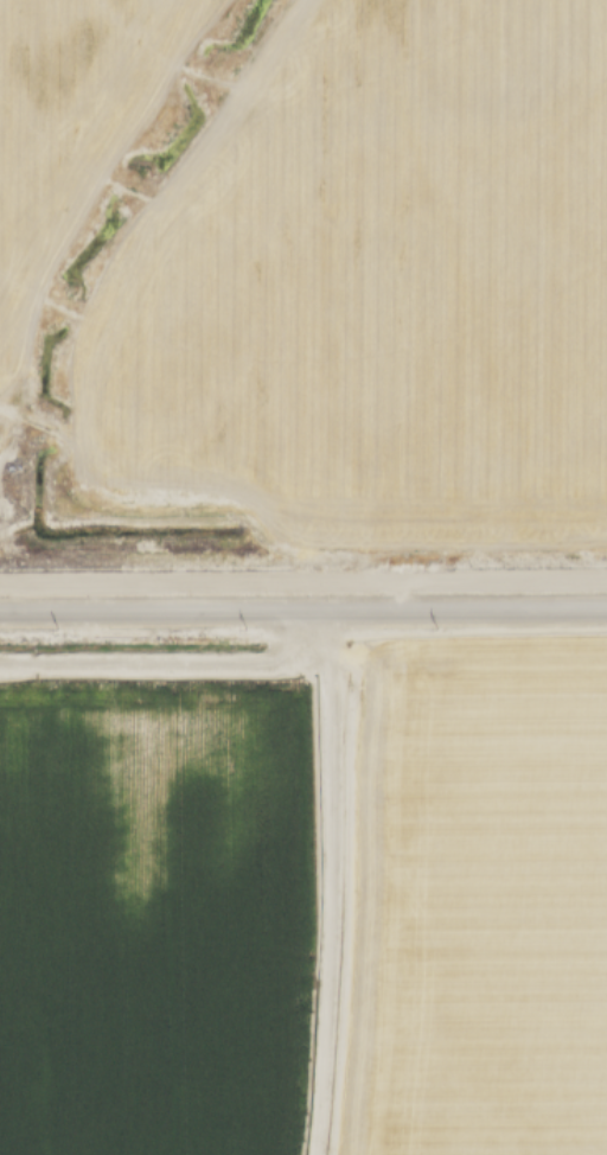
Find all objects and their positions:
road: (302, 610)
road: (165, 664)
road: (330, 882)

